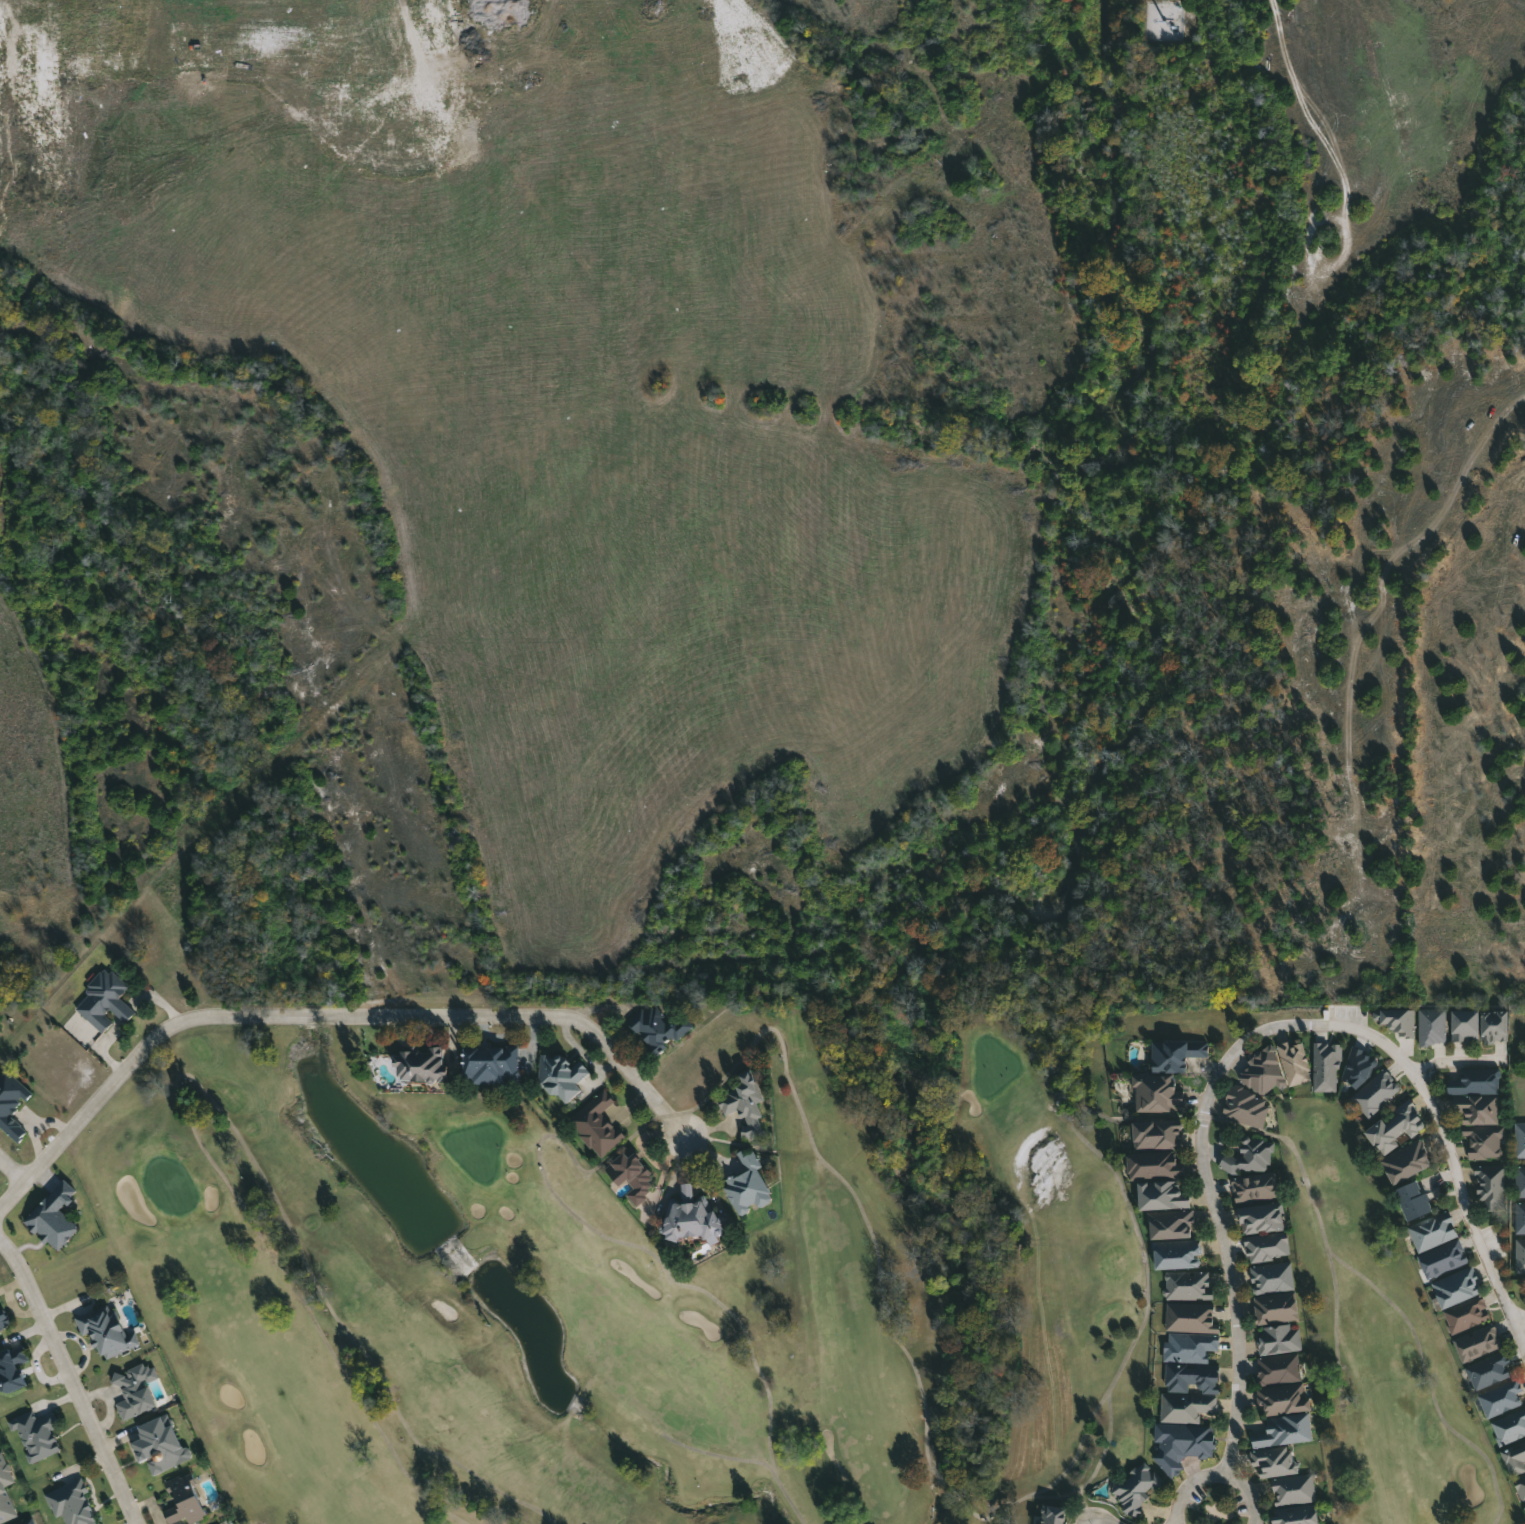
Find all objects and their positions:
building: (105, 1000)
road: (327, 1014)
building: (1398, 1020)
building: (1464, 1025)
building: (1494, 1025)
building: (1432, 1026)
building: (660, 1028)
road: (1258, 1032)
building: (1175, 1053)
building: (490, 1063)
building: (419, 1064)
building: (1294, 1064)
building: (1358, 1065)
building: (1326, 1066)
building: (1262, 1072)
building: (561, 1075)
building: (1156, 1091)
building: (1376, 1092)
building: (12, 1103)
building: (744, 1104)
building: (1246, 1108)
building: (1478, 1110)
building: (597, 1124)
building: (1394, 1127)
building: (1156, 1136)
building: (1520, 1139)
building: (1249, 1156)
building: (1406, 1163)
building: (1154, 1165)
road: (12, 1170)
building: (631, 1175)
building: (1520, 1180)
building: (747, 1184)
building: (1255, 1184)
building: (1491, 1187)
building: (1161, 1194)
building: (1412, 1198)
building: (689, 1216)
building: (54, 1217)
building: (1261, 1217)
building: (1520, 1217)
building: (1170, 1224)
building: (1432, 1232)
building: (1267, 1247)
building: (1176, 1253)
building: (1520, 1254)
building: (1442, 1259)
building: (1272, 1277)
building: (1188, 1285)
park: (645, 1287)
building: (1456, 1287)
park: (638, 1292)
building: (1275, 1308)
building: (1466, 1313)
building: (4, 1316)
building: (1190, 1317)
road: (1520, 1321)
building: (108, 1331)
building: (1279, 1338)
building: (1478, 1342)
park: (1379, 1345)
building: (1188, 1347)
park: (1378, 1348)
building: (12, 1368)
building: (1279, 1368)
building: (1489, 1369)
building: (1191, 1376)
road: (71, 1379)
building: (137, 1389)
building: (1283, 1397)
building: (1501, 1398)
building: (1186, 1407)
building: (1509, 1426)
building: (1283, 1430)
building: (38, 1433)
building: (159, 1443)
building: (1181, 1445)
building: (1514, 1458)
building: (1274, 1461)
road: (1215, 1473)
building: (1520, 1486)
building: (1135, 1487)
building: (1294, 1489)
building: (6, 1490)
building: (183, 1502)
building: (73, 1503)
building: (1524, 1507)
building: (1052, 1514)
building: (1294, 1516)
building: (27, 1521)
building: (224, 1523)

